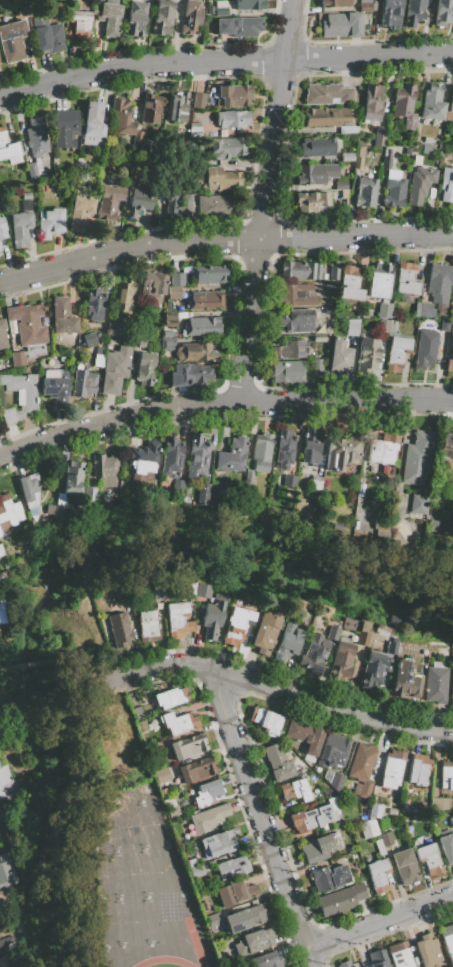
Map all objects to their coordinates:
building: (335, 3)
building: (249, 4)
building: (366, 6)
building: (220, 8)
building: (209, 10)
building: (414, 12)
building: (444, 12)
building: (24, 13)
building: (390, 13)
building: (191, 16)
building: (162, 17)
building: (110, 19)
building: (135, 19)
building: (81, 24)
building: (342, 24)
building: (239, 26)
building: (49, 38)
building: (12, 41)
road: (224, 61)
building: (328, 93)
building: (233, 95)
building: (198, 100)
building: (432, 102)
building: (451, 102)
building: (372, 103)
building: (405, 105)
building: (177, 107)
building: (151, 108)
building: (326, 116)
building: (121, 117)
building: (231, 119)
building: (94, 124)
building: (65, 128)
building: (194, 129)
building: (348, 129)
building: (36, 137)
building: (137, 137)
building: (379, 138)
building: (427, 140)
building: (317, 147)
building: (226, 148)
building: (8, 149)
building: (428, 150)
building: (408, 151)
building: (358, 155)
building: (347, 156)
building: (386, 162)
building: (32, 171)
building: (317, 174)
building: (215, 178)
building: (420, 184)
building: (341, 185)
building: (447, 185)
building: (4, 186)
building: (170, 191)
building: (366, 192)
building: (394, 192)
building: (344, 193)
building: (26, 196)
building: (138, 198)
road: (263, 200)
building: (311, 201)
building: (109, 203)
building: (184, 203)
building: (26, 206)
building: (217, 206)
building: (80, 213)
building: (50, 223)
building: (2, 228)
building: (20, 229)
road: (223, 240)
building: (0, 250)
building: (300, 270)
building: (333, 272)
building: (209, 274)
building: (177, 279)
building: (407, 279)
building: (379, 281)
building: (440, 282)
building: (350, 283)
building: (153, 284)
building: (174, 293)
building: (296, 295)
building: (123, 296)
building: (205, 300)
building: (452, 303)
building: (94, 304)
building: (384, 310)
building: (424, 310)
building: (62, 317)
building: (170, 318)
building: (298, 321)
building: (425, 321)
building: (444, 324)
building: (383, 325)
building: (202, 326)
building: (352, 327)
building: (29, 329)
building: (114, 329)
building: (2, 334)
building: (451, 336)
building: (319, 338)
building: (139, 339)
building: (167, 343)
building: (396, 348)
building: (289, 349)
building: (425, 349)
building: (195, 352)
building: (339, 355)
building: (367, 355)
building: (17, 358)
building: (98, 361)
building: (317, 365)
building: (449, 365)
building: (145, 368)
building: (115, 370)
building: (287, 371)
building: (190, 375)
building: (82, 382)
building: (55, 387)
building: (19, 396)
road: (222, 402)
building: (311, 445)
building: (446, 447)
building: (284, 449)
building: (383, 450)
building: (343, 452)
building: (231, 455)
building: (171, 456)
building: (258, 456)
building: (197, 457)
building: (418, 458)
building: (142, 463)
building: (104, 469)
building: (72, 478)
building: (289, 480)
building: (177, 487)
building: (314, 487)
building: (29, 489)
building: (88, 491)
building: (202, 494)
building: (59, 499)
building: (418, 504)
building: (8, 514)
building: (1, 551)
building: (191, 589)
building: (202, 590)
building: (157, 595)
building: (2, 602)
building: (157, 604)
building: (213, 616)
building: (396, 619)
building: (177, 620)
building: (350, 623)
building: (236, 625)
building: (147, 626)
building: (118, 628)
building: (382, 630)
building: (265, 632)
building: (332, 633)
building: (363, 633)
building: (287, 641)
building: (390, 648)
building: (313, 653)
road: (47, 660)
building: (340, 663)
building: (373, 672)
road: (96, 674)
building: (405, 681)
building: (435, 682)
building: (451, 685)
road: (275, 686)
building: (1, 695)
building: (133, 697)
building: (169, 698)
building: (3, 702)
building: (137, 712)
building: (265, 720)
building: (178, 722)
building: (142, 726)
building: (305, 737)
building: (188, 746)
building: (153, 748)
building: (332, 750)
building: (277, 762)
building: (153, 765)
building: (301, 768)
building: (361, 769)
building: (391, 769)
building: (418, 769)
building: (190, 771)
building: (161, 774)
building: (446, 775)
building: (333, 778)
building: (6, 784)
building: (294, 789)
building: (164, 790)
building: (207, 792)
building: (377, 792)
building: (333, 800)
building: (440, 803)
building: (171, 806)
building: (374, 810)
building: (413, 810)
building: (416, 817)
building: (208, 818)
building: (311, 818)
road: (260, 819)
building: (450, 820)
building: (383, 824)
road: (1, 826)
building: (367, 828)
building: (386, 838)
building: (219, 843)
building: (446, 847)
building: (379, 848)
building: (315, 849)
building: (429, 859)
building: (405, 866)
building: (195, 868)
building: (231, 868)
building: (6, 873)
park: (132, 873)
building: (377, 875)
building: (329, 877)
building: (234, 893)
building: (340, 899)
building: (1, 910)
building: (244, 918)
road: (378, 920)
building: (215, 923)
building: (448, 940)
track: (194, 941)
building: (254, 942)
building: (2, 946)
building: (427, 950)
building: (400, 954)
building: (377, 958)
building: (267, 960)
track: (163, 962)
building: (344, 963)

